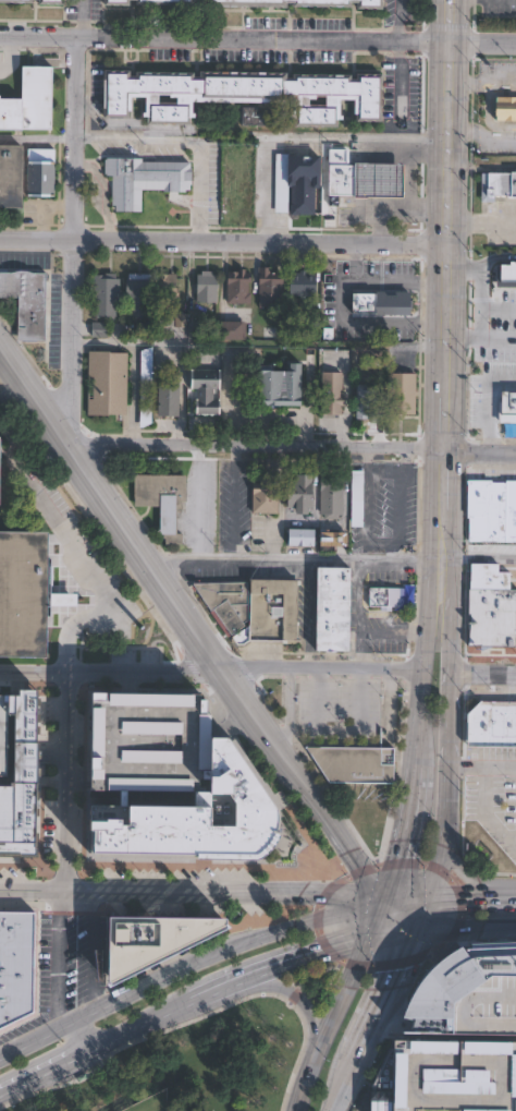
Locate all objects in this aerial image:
building: (16, 1)
building: (52, 1)
building: (118, 2)
building: (270, 2)
road: (81, 16)
road: (445, 17)
road: (397, 19)
road: (222, 35)
road: (480, 39)
building: (244, 94)
building: (30, 101)
building: (511, 108)
building: (256, 116)
road: (306, 136)
road: (37, 137)
road: (136, 138)
road: (446, 141)
road: (481, 167)
building: (41, 172)
building: (10, 176)
building: (144, 180)
building: (368, 180)
building: (305, 183)
building: (497, 183)
road: (198, 191)
road: (100, 192)
road: (481, 224)
road: (71, 225)
road: (224, 240)
road: (481, 263)
road: (379, 281)
building: (304, 283)
building: (208, 287)
building: (239, 287)
building: (270, 288)
building: (168, 289)
building: (139, 293)
building: (107, 294)
road: (479, 301)
building: (27, 302)
building: (380, 302)
road: (447, 312)
building: (497, 314)
building: (315, 316)
road: (379, 318)
building: (100, 328)
building: (145, 329)
building: (234, 330)
road: (481, 338)
road: (124, 346)
building: (145, 375)
building: (108, 383)
building: (271, 386)
road: (37, 388)
building: (333, 393)
building: (402, 393)
building: (201, 397)
building: (169, 398)
building: (368, 400)
road: (486, 400)
road: (23, 401)
road: (446, 416)
road: (261, 447)
road: (481, 452)
road: (383, 470)
building: (296, 493)
building: (266, 496)
building: (332, 497)
road: (397, 497)
road: (196, 499)
building: (355, 499)
building: (163, 500)
road: (233, 500)
road: (278, 502)
road: (315, 502)
road: (457, 504)
building: (492, 511)
road: (365, 516)
building: (302, 536)
building: (340, 541)
road: (288, 556)
road: (442, 557)
road: (486, 558)
road: (428, 560)
road: (83, 561)
building: (23, 593)
building: (385, 596)
building: (226, 602)
building: (492, 606)
building: (334, 608)
building: (271, 613)
road: (307, 613)
road: (454, 616)
road: (34, 671)
road: (145, 671)
road: (321, 671)
road: (225, 674)
road: (484, 675)
road: (285, 707)
road: (418, 720)
building: (493, 724)
road: (339, 732)
building: (1, 734)
parking garage: (1, 734)
building: (147, 740)
parking garage: (147, 740)
building: (354, 764)
road: (482, 769)
building: (17, 778)
road: (66, 781)
road: (450, 789)
building: (189, 817)
road: (484, 818)
road: (403, 834)
road: (472, 880)
road: (191, 892)
road: (469, 899)
road: (403, 901)
traffic signals: (425, 901)
traffic signals: (382, 902)
road: (420, 916)
road: (465, 928)
traffic signals: (416, 931)
traffic signals: (373, 935)
building: (147, 938)
road: (233, 946)
road: (91, 952)
road: (294, 957)
road: (56, 961)
building: (16, 966)
road: (401, 966)
road: (275, 988)
building: (465, 997)
road: (340, 1006)
road: (132, 1029)
road: (89, 1032)
road: (46, 1035)
road: (365, 1044)
park: (186, 1065)
road: (42, 1075)
building: (443, 1077)
road: (340, 1100)

